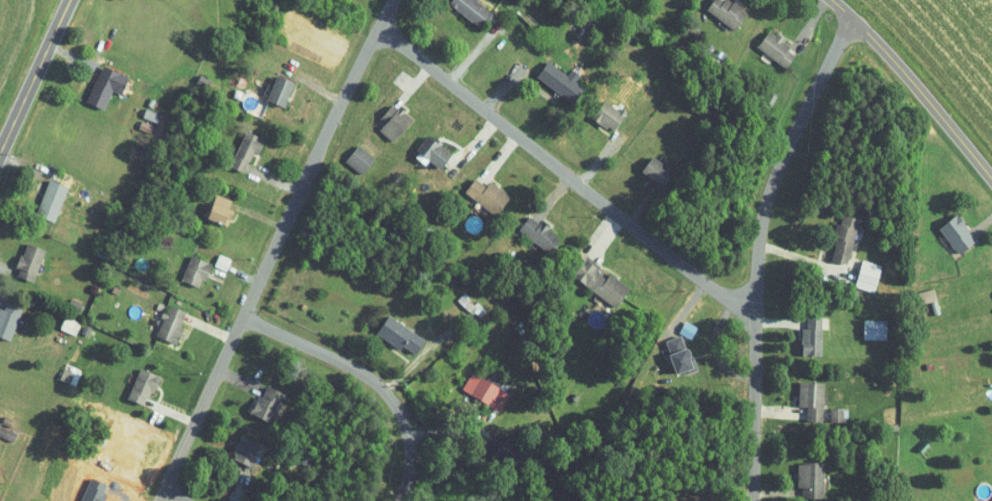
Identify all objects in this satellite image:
building: (474, 10)
building: (729, 11)
road: (808, 25)
building: (778, 48)
road: (473, 53)
road: (73, 56)
road: (34, 74)
building: (562, 81)
road: (412, 85)
building: (107, 86)
road: (315, 86)
road: (915, 86)
road: (500, 90)
building: (282, 91)
building: (772, 98)
building: (152, 102)
building: (151, 114)
building: (610, 115)
building: (395, 121)
building: (145, 126)
road: (472, 145)
building: (248, 150)
building: (434, 151)
road: (499, 157)
road: (601, 158)
building: (361, 159)
road: (21, 163)
road: (564, 171)
building: (660, 171)
road: (275, 180)
building: (489, 196)
road: (552, 196)
building: (52, 200)
building: (222, 200)
road: (639, 208)
building: (219, 213)
road: (259, 215)
road: (982, 224)
building: (541, 233)
building: (958, 234)
building: (129, 236)
road: (604, 236)
building: (846, 238)
road: (273, 248)
road: (757, 248)
road: (806, 259)
building: (31, 261)
building: (223, 262)
road: (6, 266)
building: (197, 271)
road: (244, 275)
building: (474, 275)
building: (869, 275)
building: (602, 282)
building: (115, 290)
building: (853, 294)
building: (928, 296)
road: (0, 303)
building: (471, 304)
building: (75, 306)
building: (160, 306)
road: (686, 309)
building: (927, 309)
building: (9, 320)
road: (780, 322)
building: (172, 324)
building: (70, 325)
road: (210, 328)
building: (875, 329)
building: (85, 330)
building: (458, 334)
building: (401, 335)
building: (814, 337)
road: (715, 348)
building: (681, 355)
road: (419, 356)
building: (66, 375)
road: (368, 377)
road: (238, 380)
building: (144, 385)
building: (486, 391)
building: (808, 399)
building: (269, 404)
road: (170, 411)
road: (780, 412)
building: (8, 422)
road: (441, 427)
building: (923, 446)
building: (508, 450)
building: (247, 451)
building: (306, 460)
building: (812, 479)
road: (239, 487)
road: (777, 492)
road: (173, 496)
building: (990, 498)

